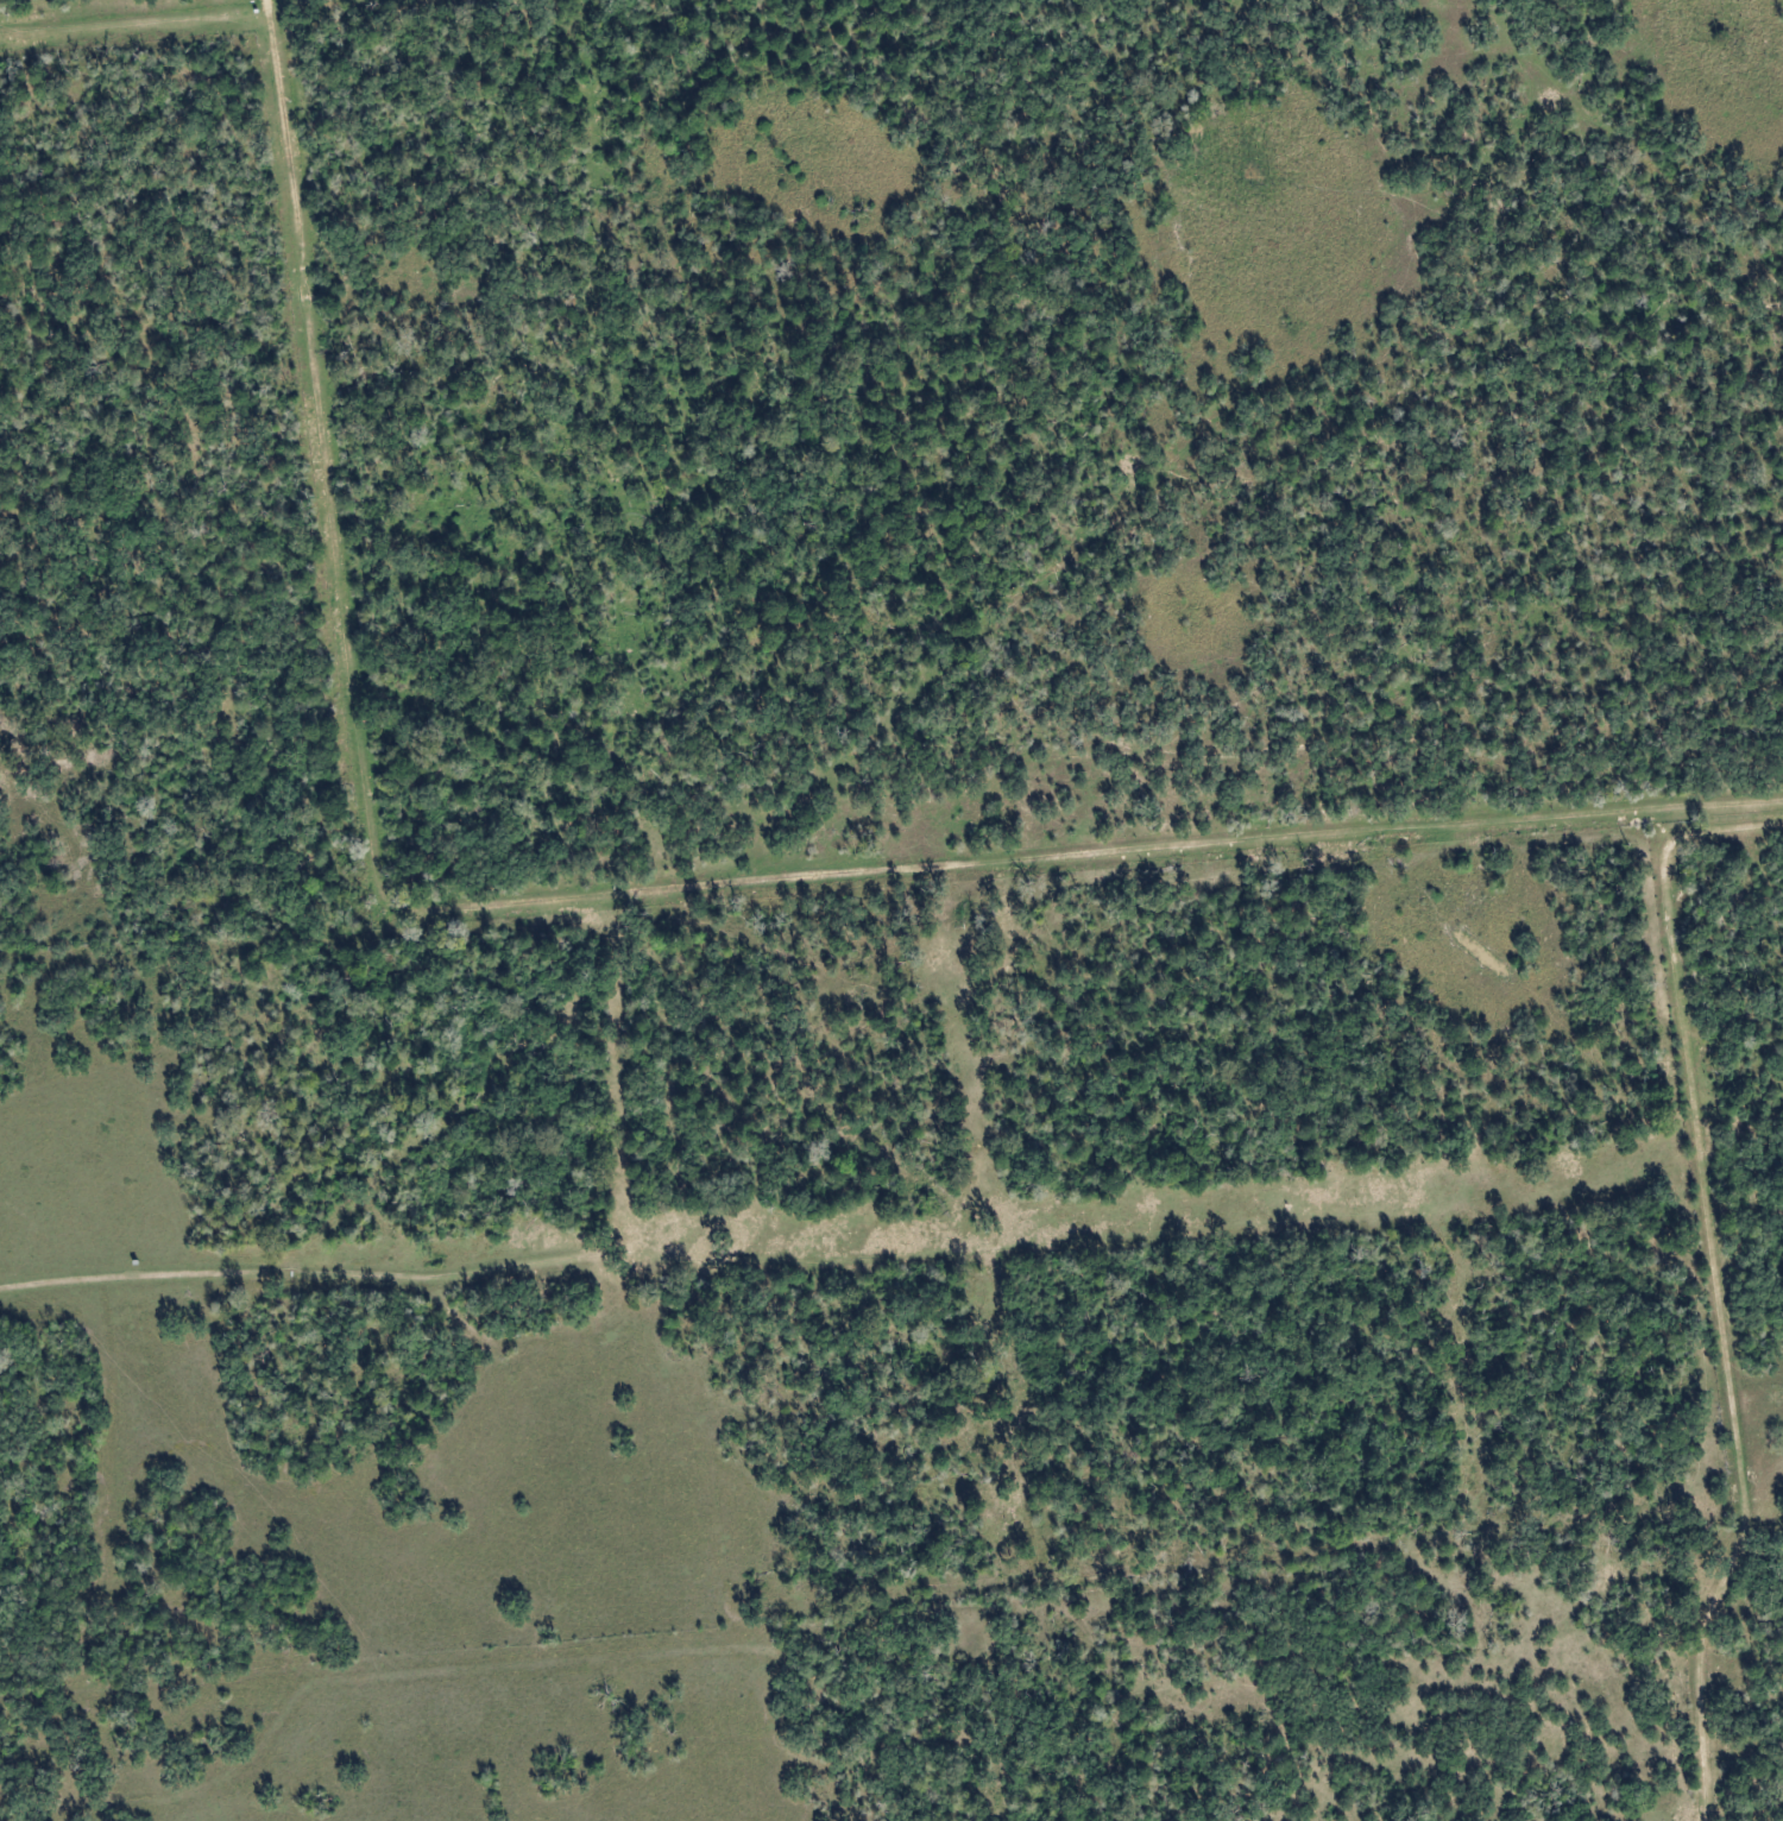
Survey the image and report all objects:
road: (892, 1423)

